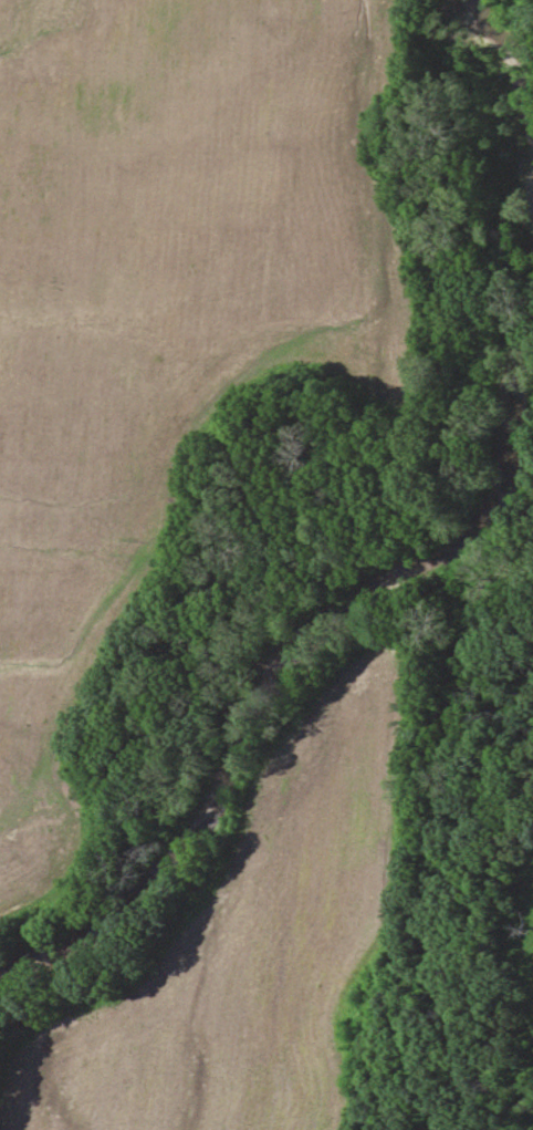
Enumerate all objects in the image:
river: (421, 562)

